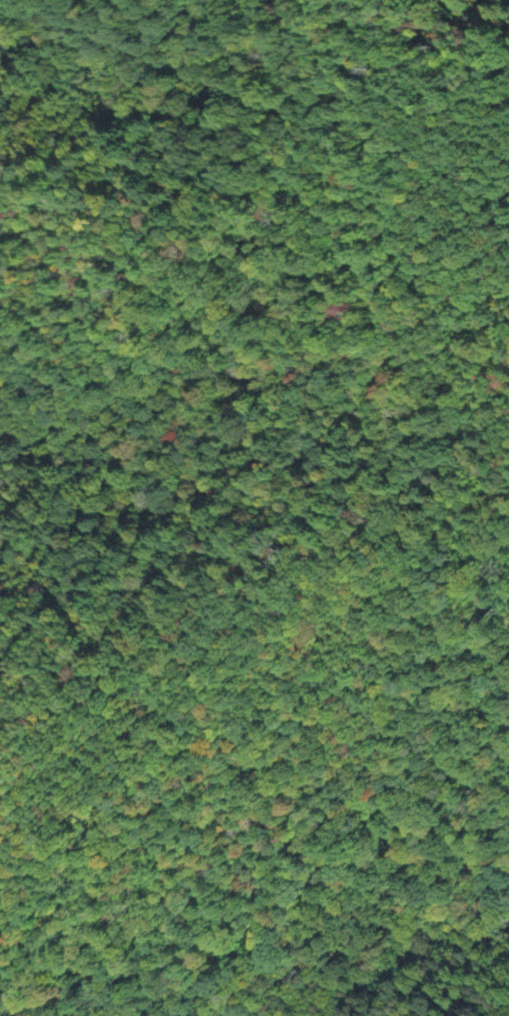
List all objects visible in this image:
road: (270, 115)
road: (433, 301)
road: (391, 385)

